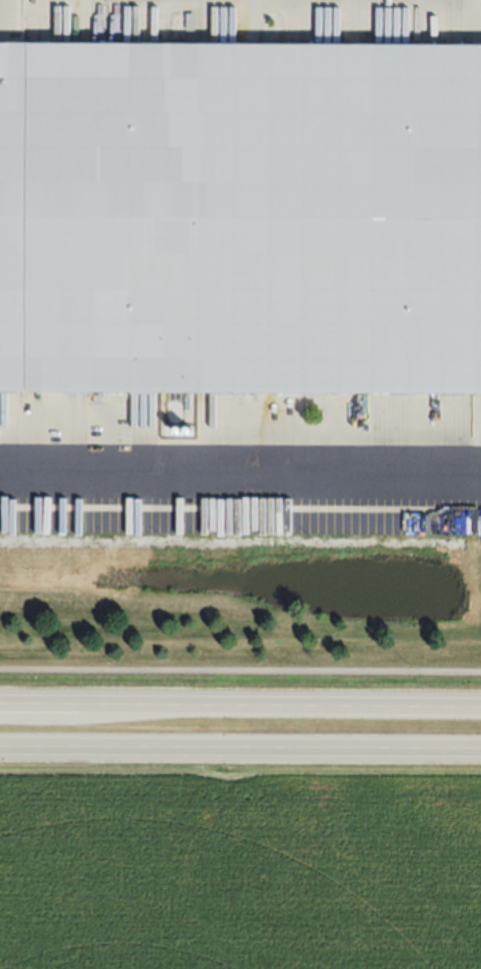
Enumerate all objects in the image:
building: (240, 216)
road: (240, 474)
road: (240, 667)
road: (240, 697)
road: (240, 747)

